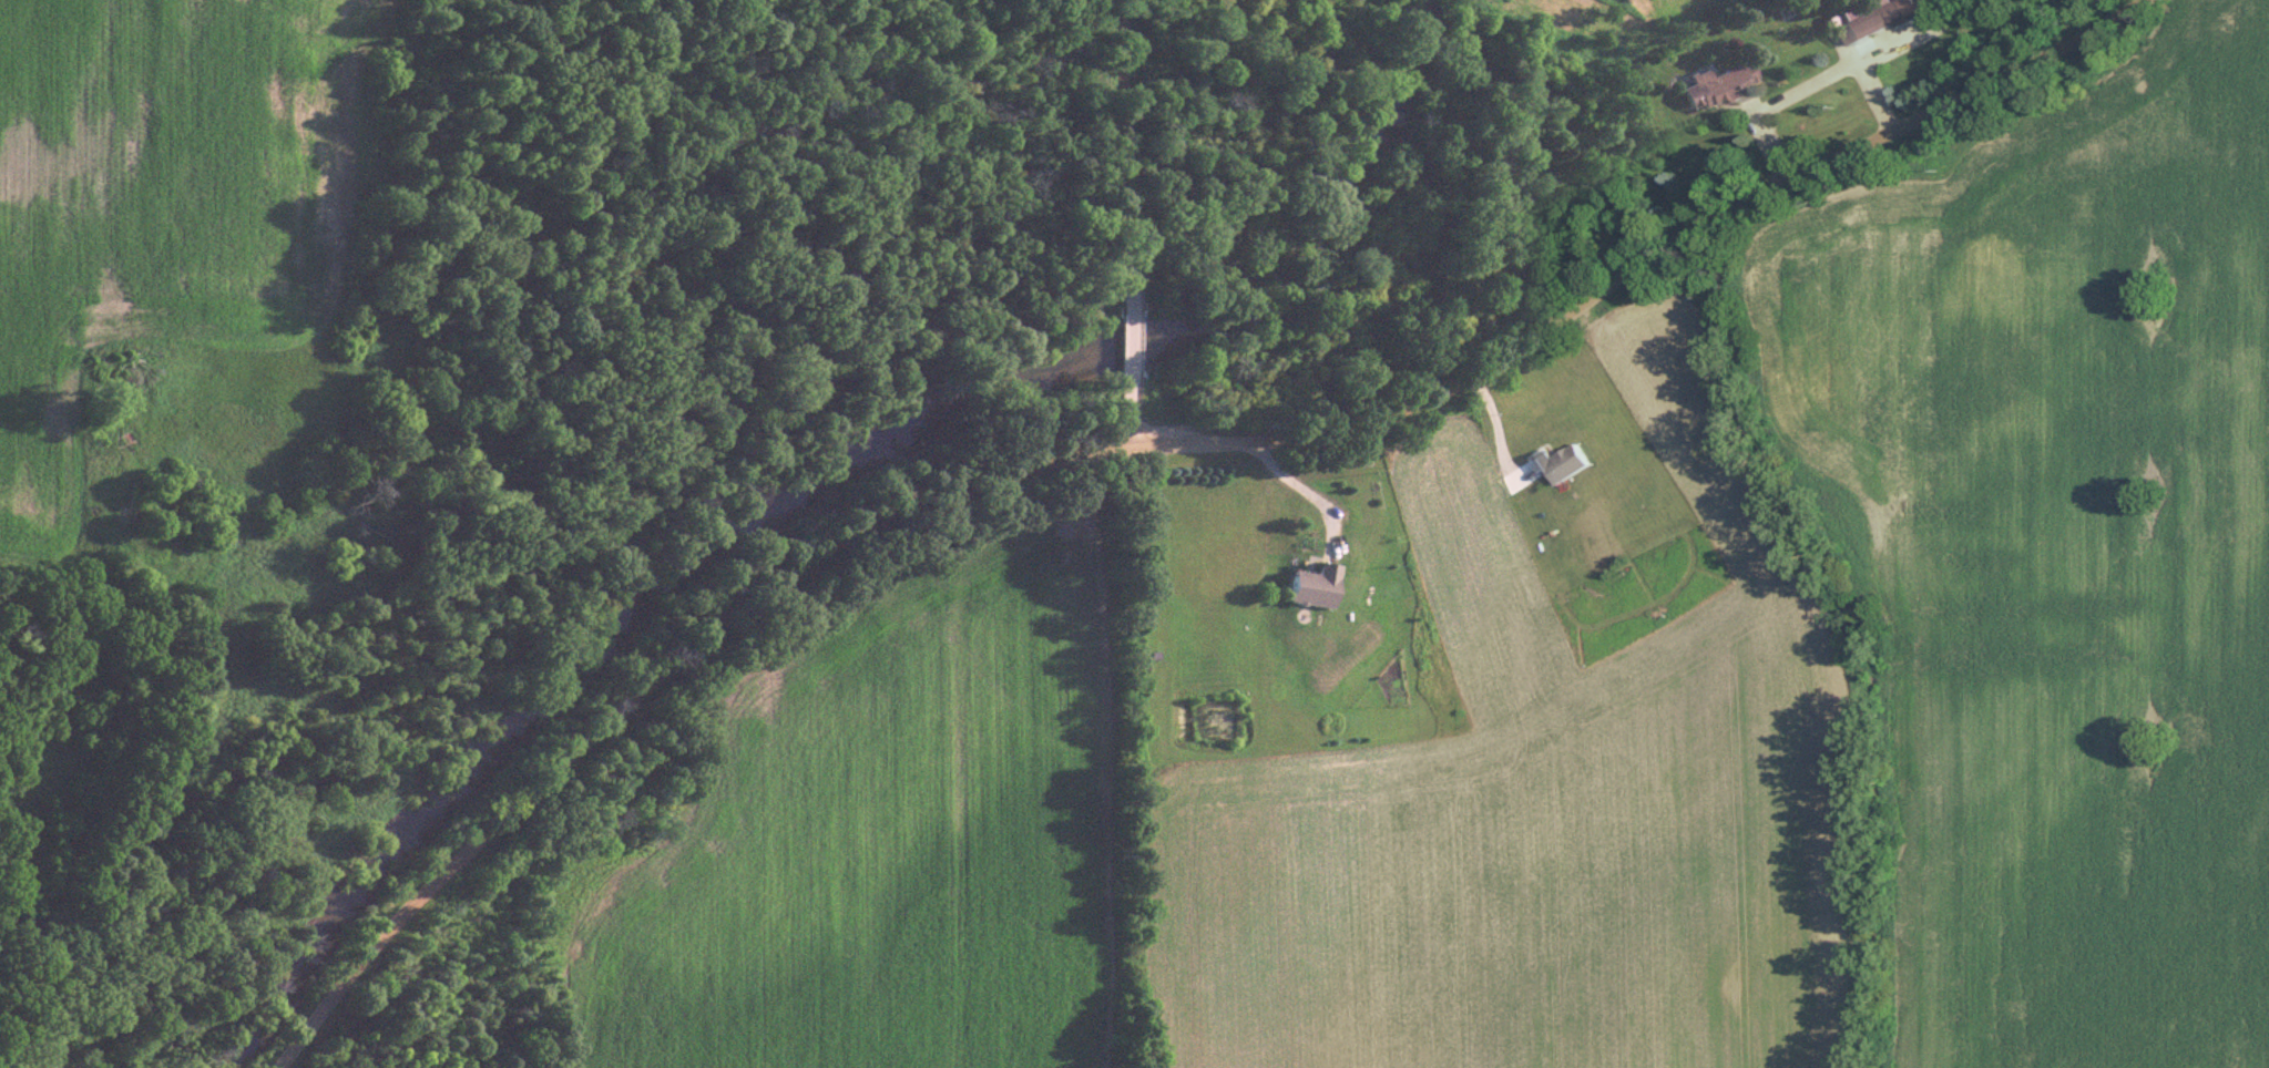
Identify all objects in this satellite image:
building: (1859, 18)
road: (1807, 84)
building: (1714, 85)
road: (1114, 224)
road: (1498, 427)
road: (1149, 446)
building: (1558, 461)
river: (819, 472)
road: (1307, 489)
building: (1309, 585)

